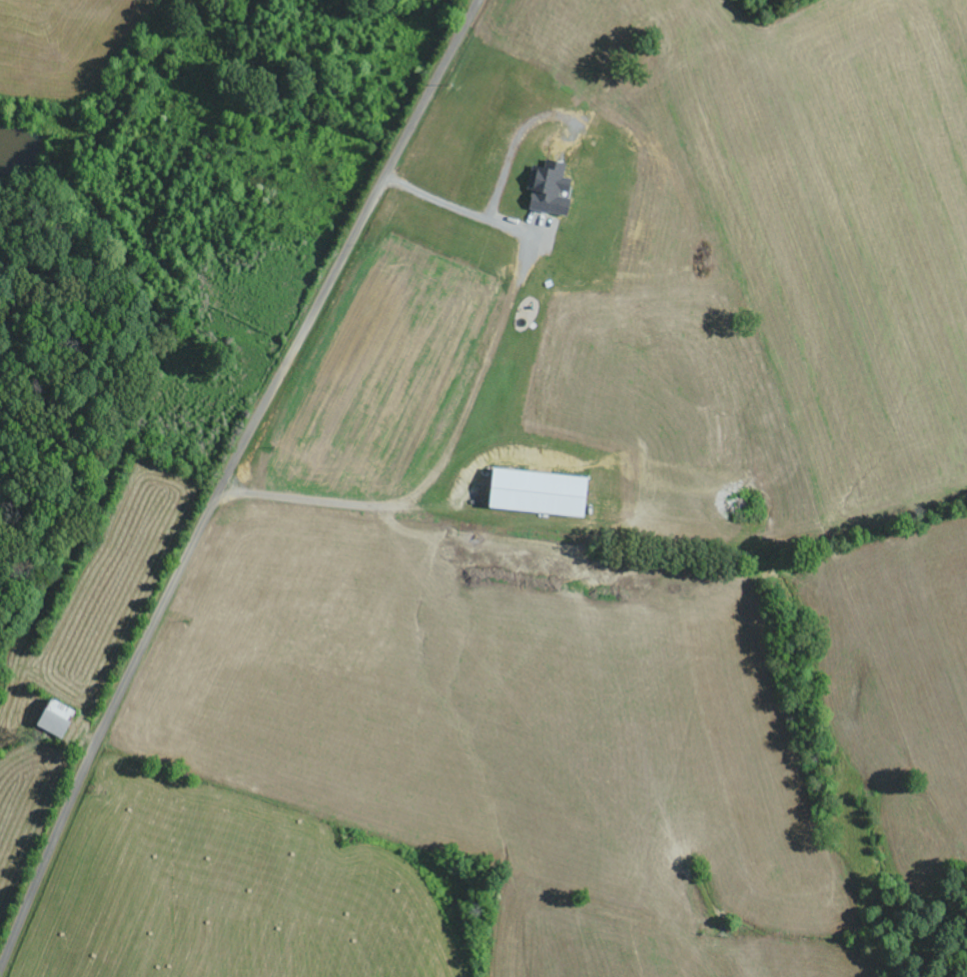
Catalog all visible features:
building: (544, 191)
road: (226, 481)
building: (530, 494)
building: (48, 720)

